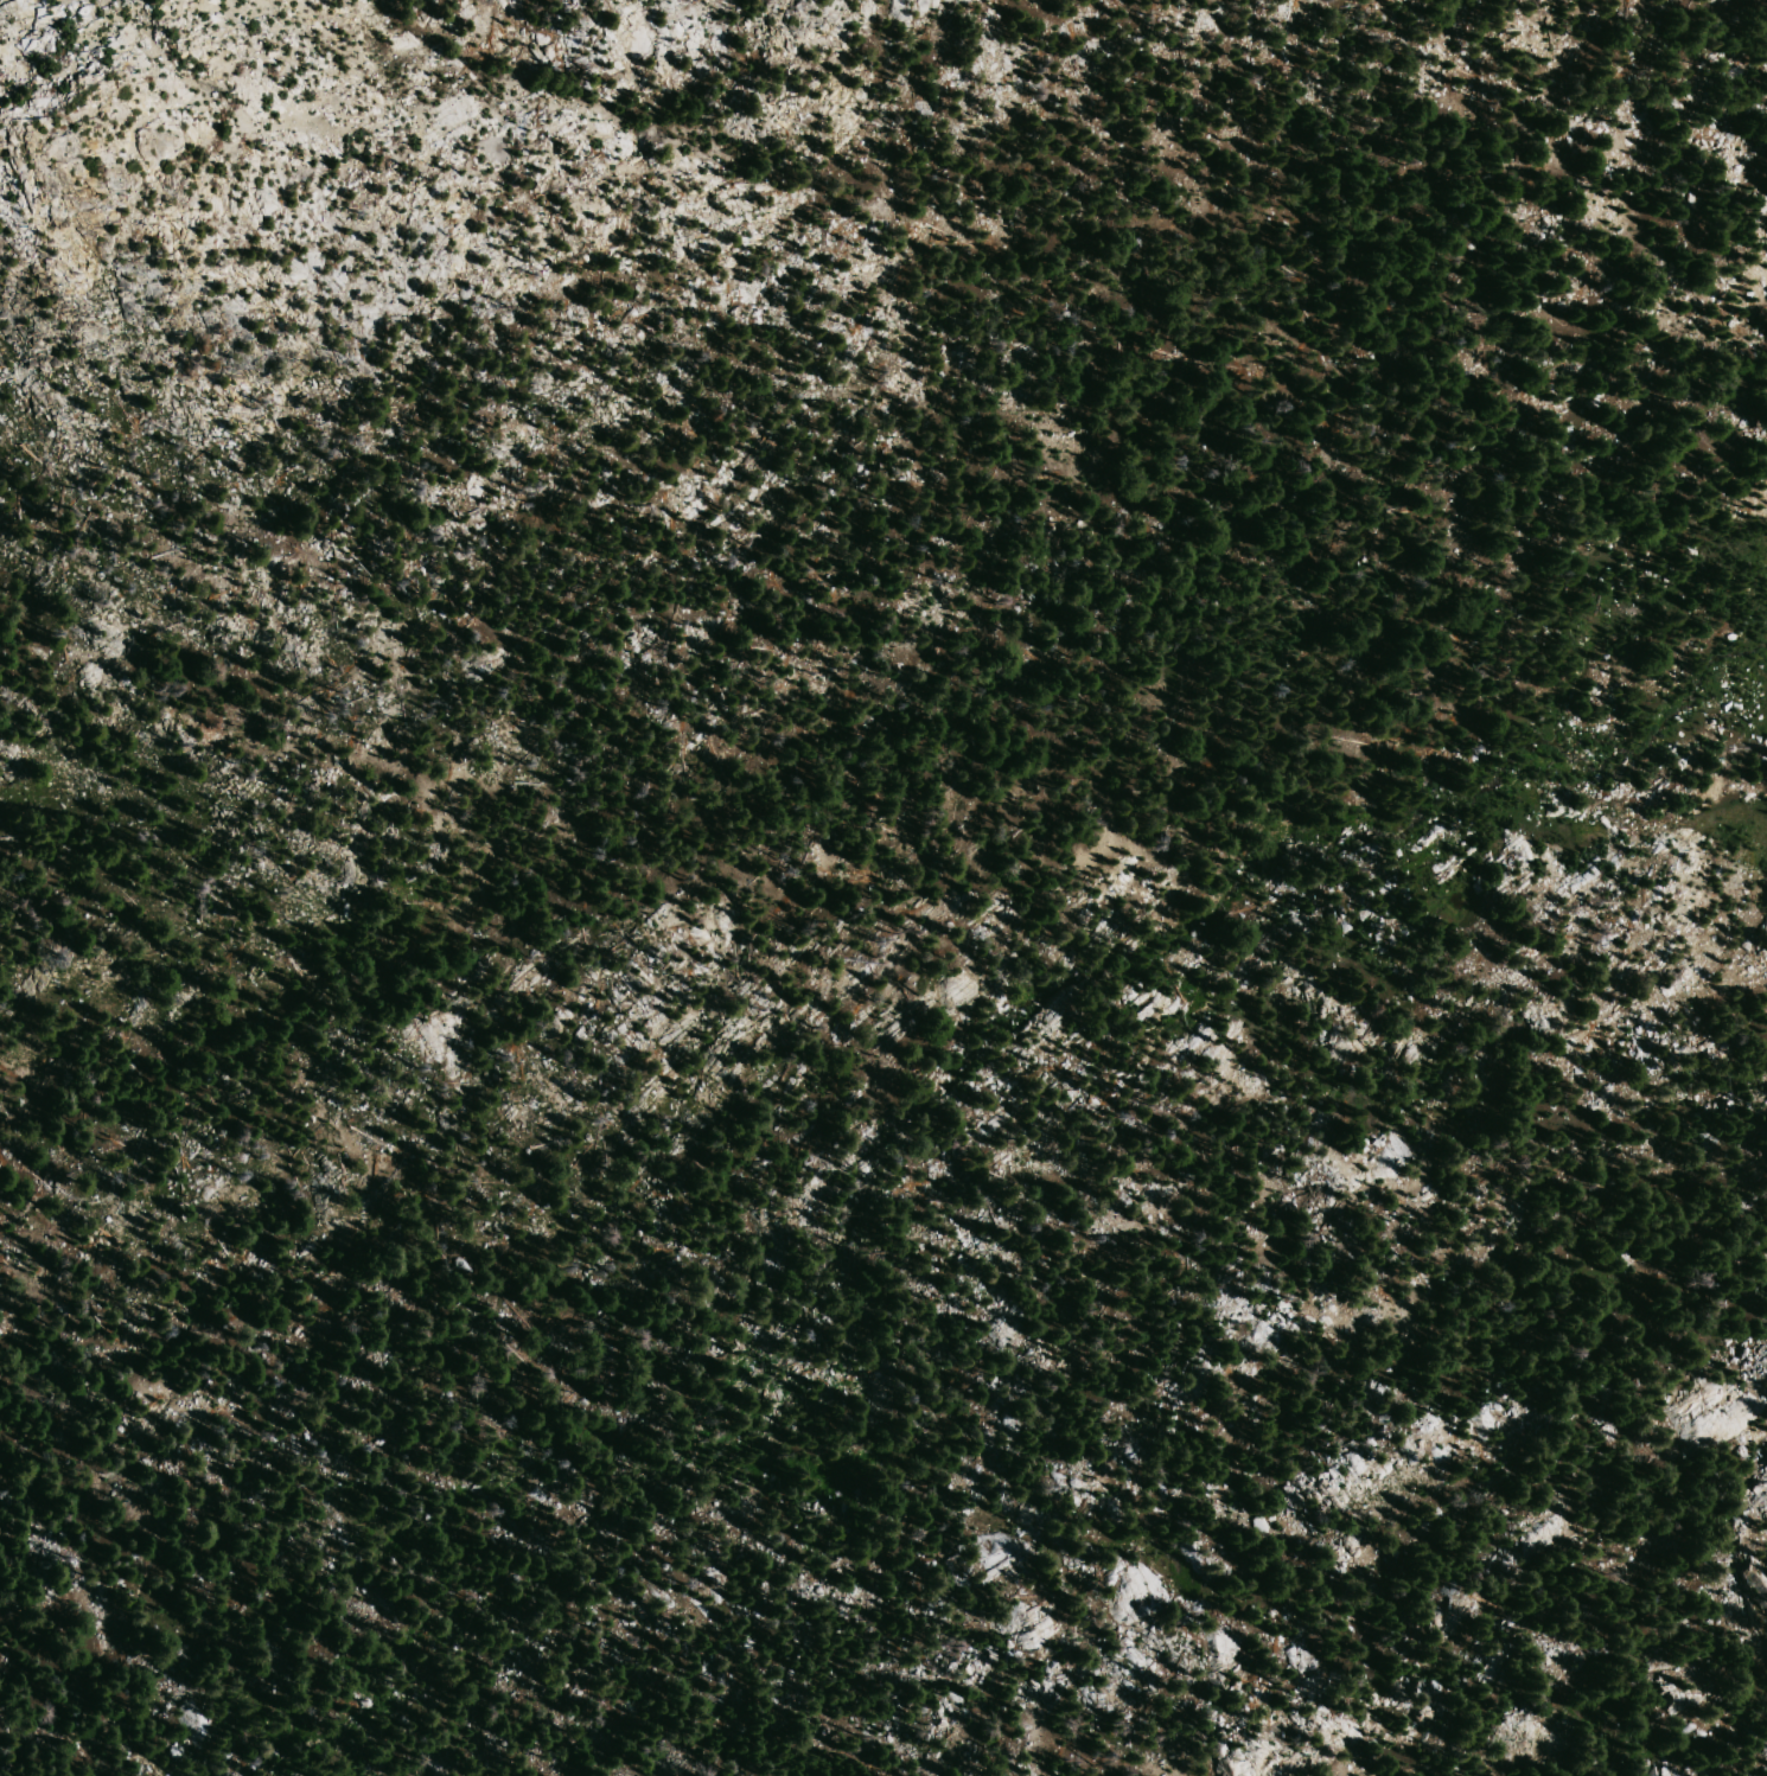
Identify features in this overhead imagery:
road: (9, 1769)

